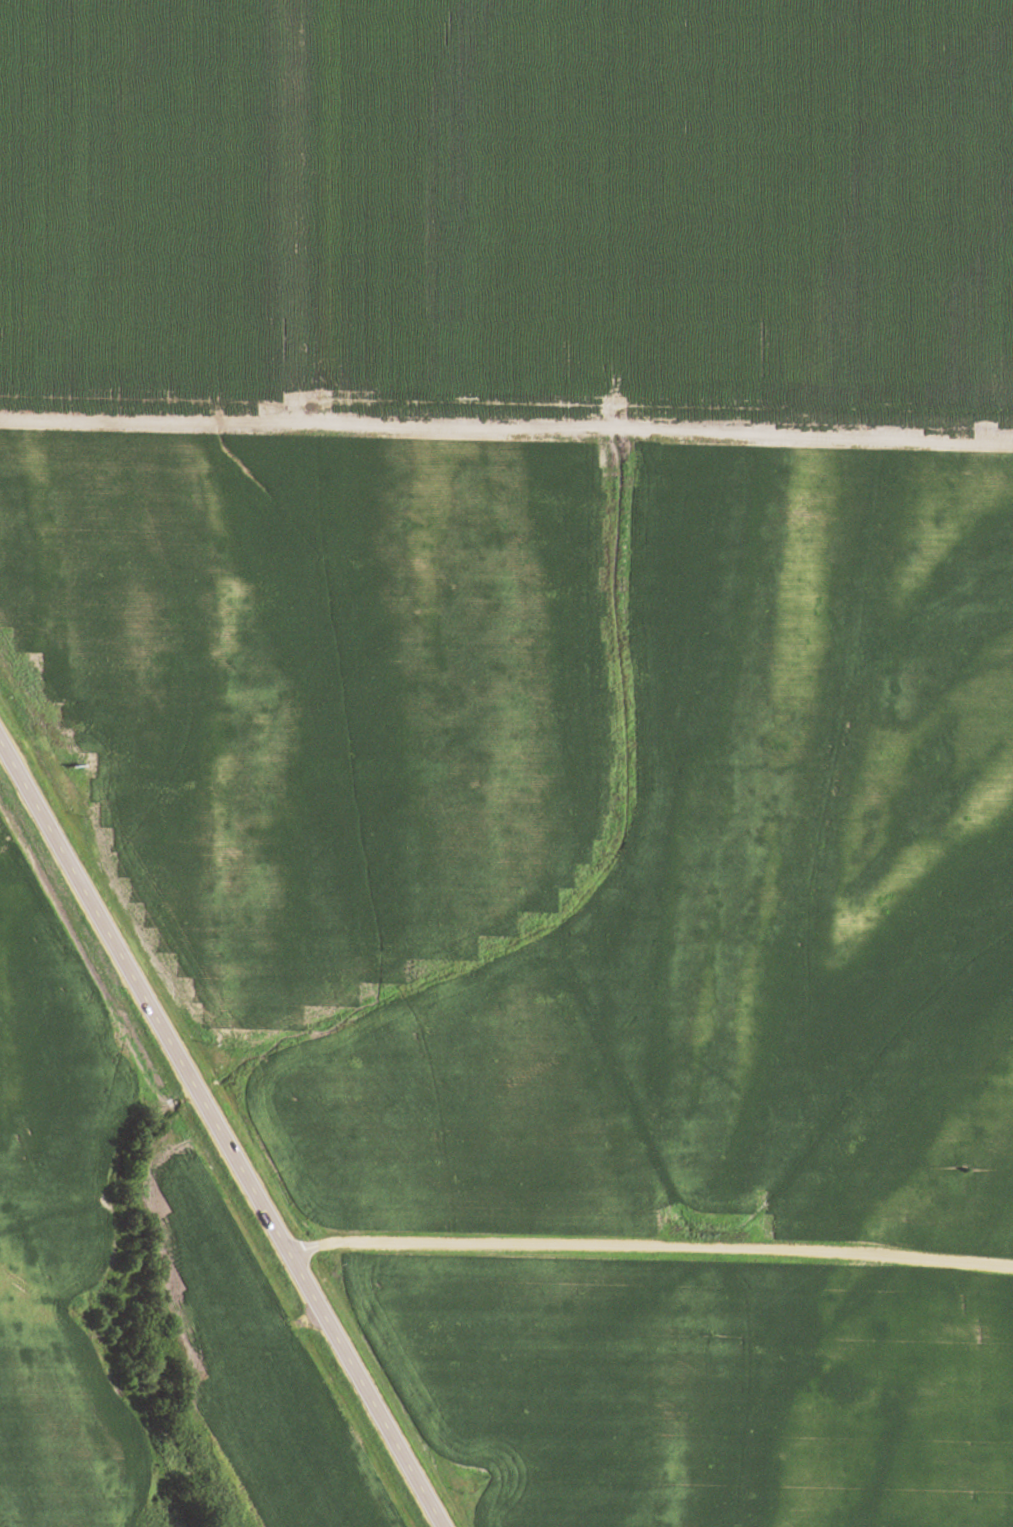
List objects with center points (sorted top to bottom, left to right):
road: (292, 210)
road: (506, 425)
road: (219, 1138)
road: (647, 1246)

